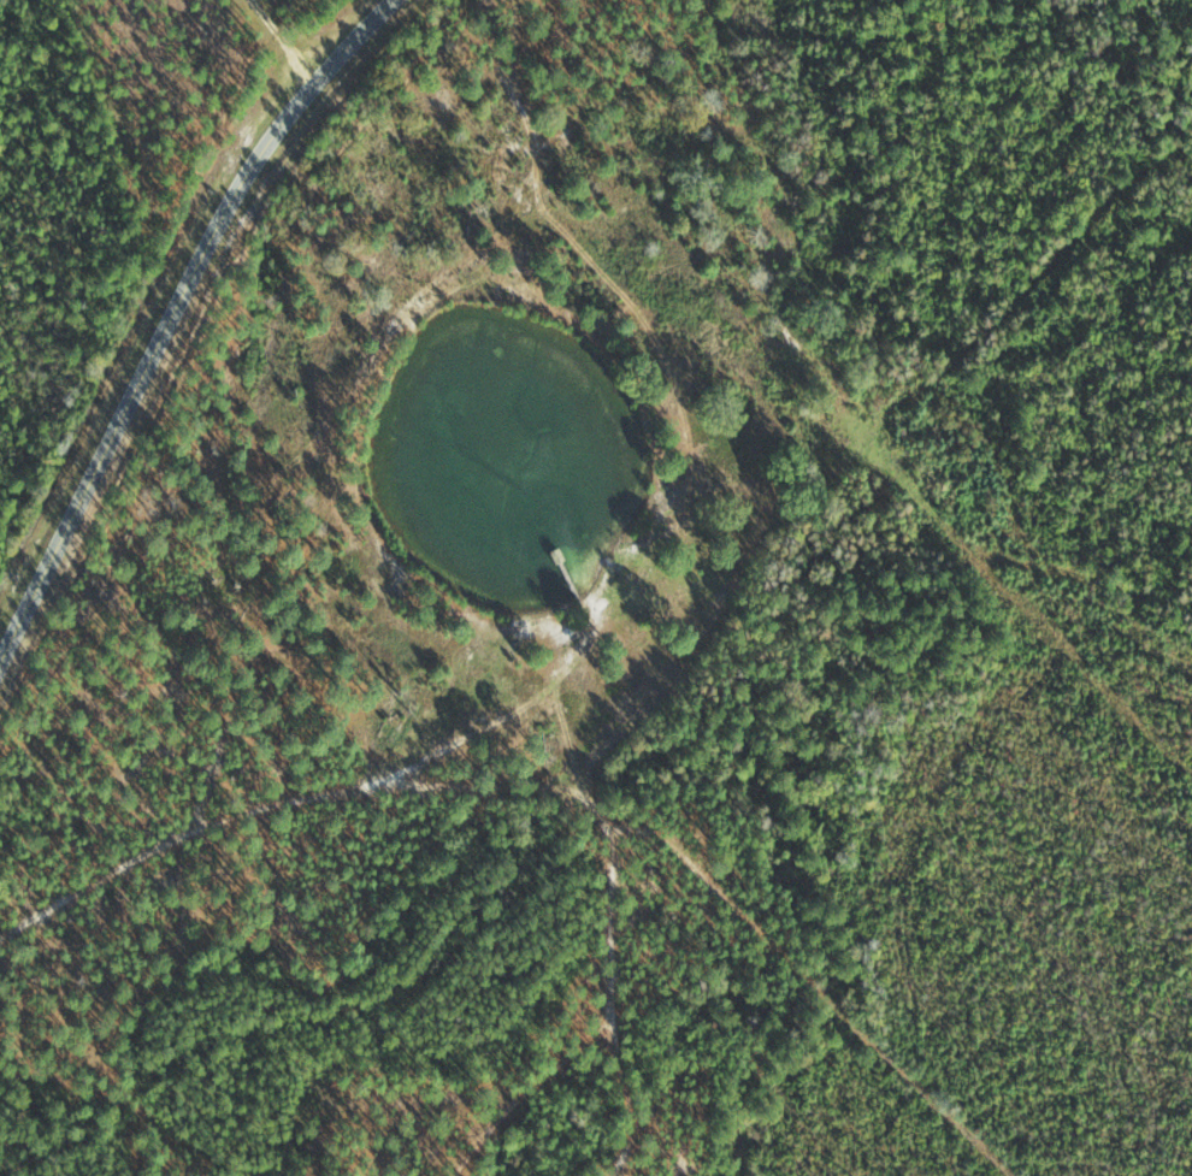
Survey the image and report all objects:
road: (291, 37)
road: (181, 323)

